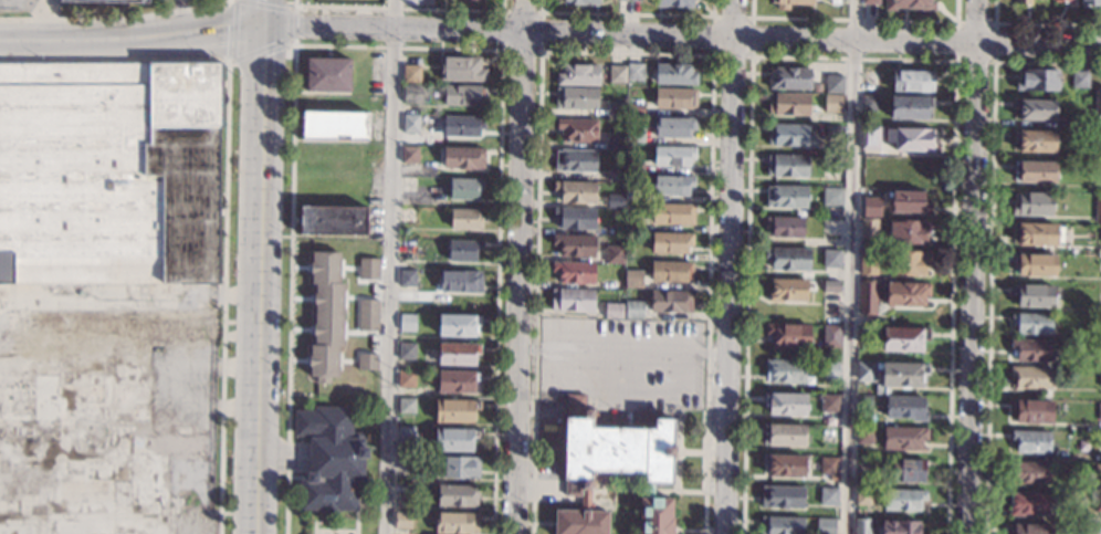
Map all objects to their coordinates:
building: (621, 0)
building: (633, 0)
building: (1067, 0)
building: (107, 1)
building: (581, 1)
building: (870, 1)
building: (1021, 1)
building: (1063, 1)
building: (1089, 2)
building: (673, 3)
building: (789, 3)
road: (264, 4)
building: (910, 4)
road: (263, 12)
road: (179, 17)
road: (114, 18)
road: (290, 24)
traffic signals: (263, 25)
road: (231, 30)
road: (682, 35)
road: (132, 38)
road: (262, 44)
road: (259, 50)
road: (114, 59)
road: (228, 62)
building: (461, 69)
building: (635, 72)
building: (411, 73)
building: (617, 74)
building: (674, 74)
building: (327, 75)
building: (579, 75)
building: (1079, 77)
building: (789, 78)
building: (1038, 80)
building: (870, 81)
building: (912, 81)
building: (833, 84)
building: (817, 87)
building: (411, 93)
building: (464, 95)
building: (576, 98)
building: (675, 98)
building: (1097, 102)
building: (832, 103)
building: (869, 103)
building: (788, 104)
building: (910, 107)
building: (636, 109)
building: (1035, 109)
building: (615, 111)
building: (1078, 122)
building: (410, 124)
building: (334, 125)
building: (462, 126)
building: (673, 127)
building: (577, 130)
building: (832, 130)
building: (636, 133)
building: (787, 135)
building: (869, 137)
building: (910, 139)
building: (1034, 142)
building: (615, 143)
building: (409, 155)
building: (672, 156)
building: (463, 158)
building: (575, 160)
building: (832, 163)
building: (633, 166)
building: (787, 166)
building: (1035, 171)
building: (108, 174)
building: (615, 176)
building: (1100, 180)
building: (408, 184)
building: (672, 186)
building: (464, 188)
building: (575, 191)
building: (632, 192)
building: (786, 197)
building: (832, 197)
building: (615, 200)
building: (908, 201)
building: (1032, 203)
building: (872, 206)
building: (1098, 208)
building: (672, 213)
building: (407, 214)
building: (575, 218)
building: (464, 219)
building: (332, 220)
building: (633, 221)
building: (785, 227)
building: (868, 227)
building: (909, 231)
building: (1039, 234)
building: (1100, 241)
building: (671, 242)
building: (574, 244)
building: (407, 247)
building: (462, 251)
building: (614, 254)
building: (830, 258)
building: (787, 259)
building: (868, 262)
building: (909, 262)
building: (1035, 264)
building: (1099, 264)
road: (389, 266)
road: (518, 266)
road: (728, 266)
road: (850, 266)
road: (972, 266)
building: (367, 269)
building: (671, 271)
building: (574, 272)
building: (407, 278)
building: (632, 280)
building: (460, 281)
building: (830, 285)
building: (788, 290)
building: (906, 294)
building: (1035, 295)
building: (1100, 295)
road: (223, 297)
building: (868, 297)
road: (256, 299)
building: (572, 300)
building: (670, 301)
building: (633, 311)
building: (615, 313)
building: (325, 316)
building: (367, 316)
building: (407, 322)
building: (1100, 322)
building: (1031, 323)
building: (458, 325)
building: (788, 335)
building: (830, 335)
building: (867, 335)
building: (904, 338)
building: (406, 350)
building: (1030, 350)
building: (454, 354)
building: (366, 363)
building: (784, 370)
building: (830, 370)
building: (864, 371)
building: (904, 375)
building: (1030, 377)
building: (406, 378)
building: (1100, 378)
building: (453, 381)
building: (863, 401)
building: (784, 404)
building: (828, 404)
building: (406, 406)
building: (905, 407)
building: (454, 411)
building: (1032, 411)
building: (1099, 411)
building: (405, 434)
building: (785, 434)
building: (828, 434)
building: (863, 434)
building: (903, 438)
building: (454, 440)
building: (1031, 441)
building: (1098, 442)
building: (329, 460)
building: (783, 465)
building: (828, 465)
building: (460, 468)
building: (612, 469)
building: (908, 470)
building: (1028, 473)
building: (1097, 473)
building: (457, 496)
building: (782, 496)
building: (827, 496)
building: (862, 496)
building: (903, 500)
building: (1098, 503)
building: (1027, 504)
building: (402, 520)
flagpole: (315, 522)
building: (455, 523)
building: (780, 525)
building: (825, 526)
building: (861, 526)
building: (900, 526)
building: (1029, 528)
building: (1097, 530)

